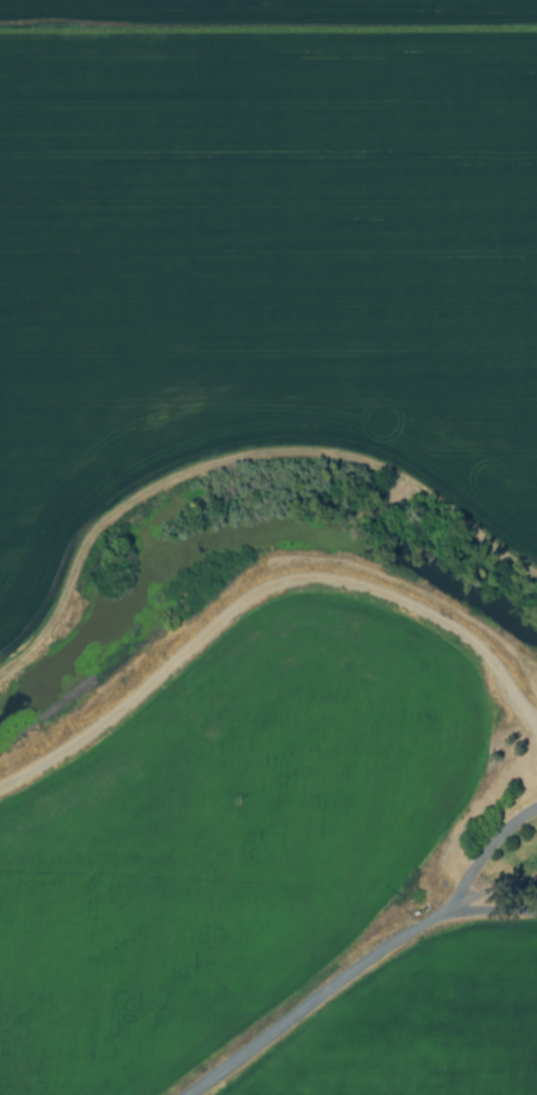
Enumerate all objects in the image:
road: (348, 973)

